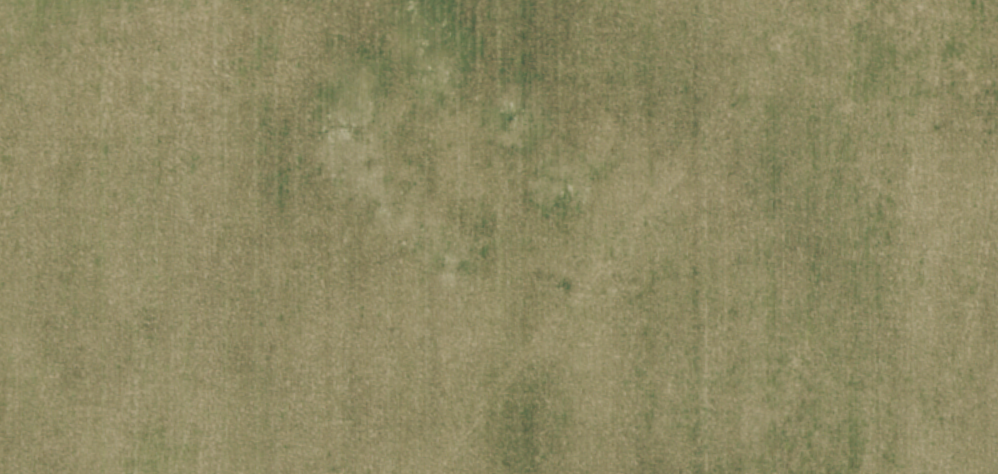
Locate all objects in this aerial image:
crop: (499, 237)

